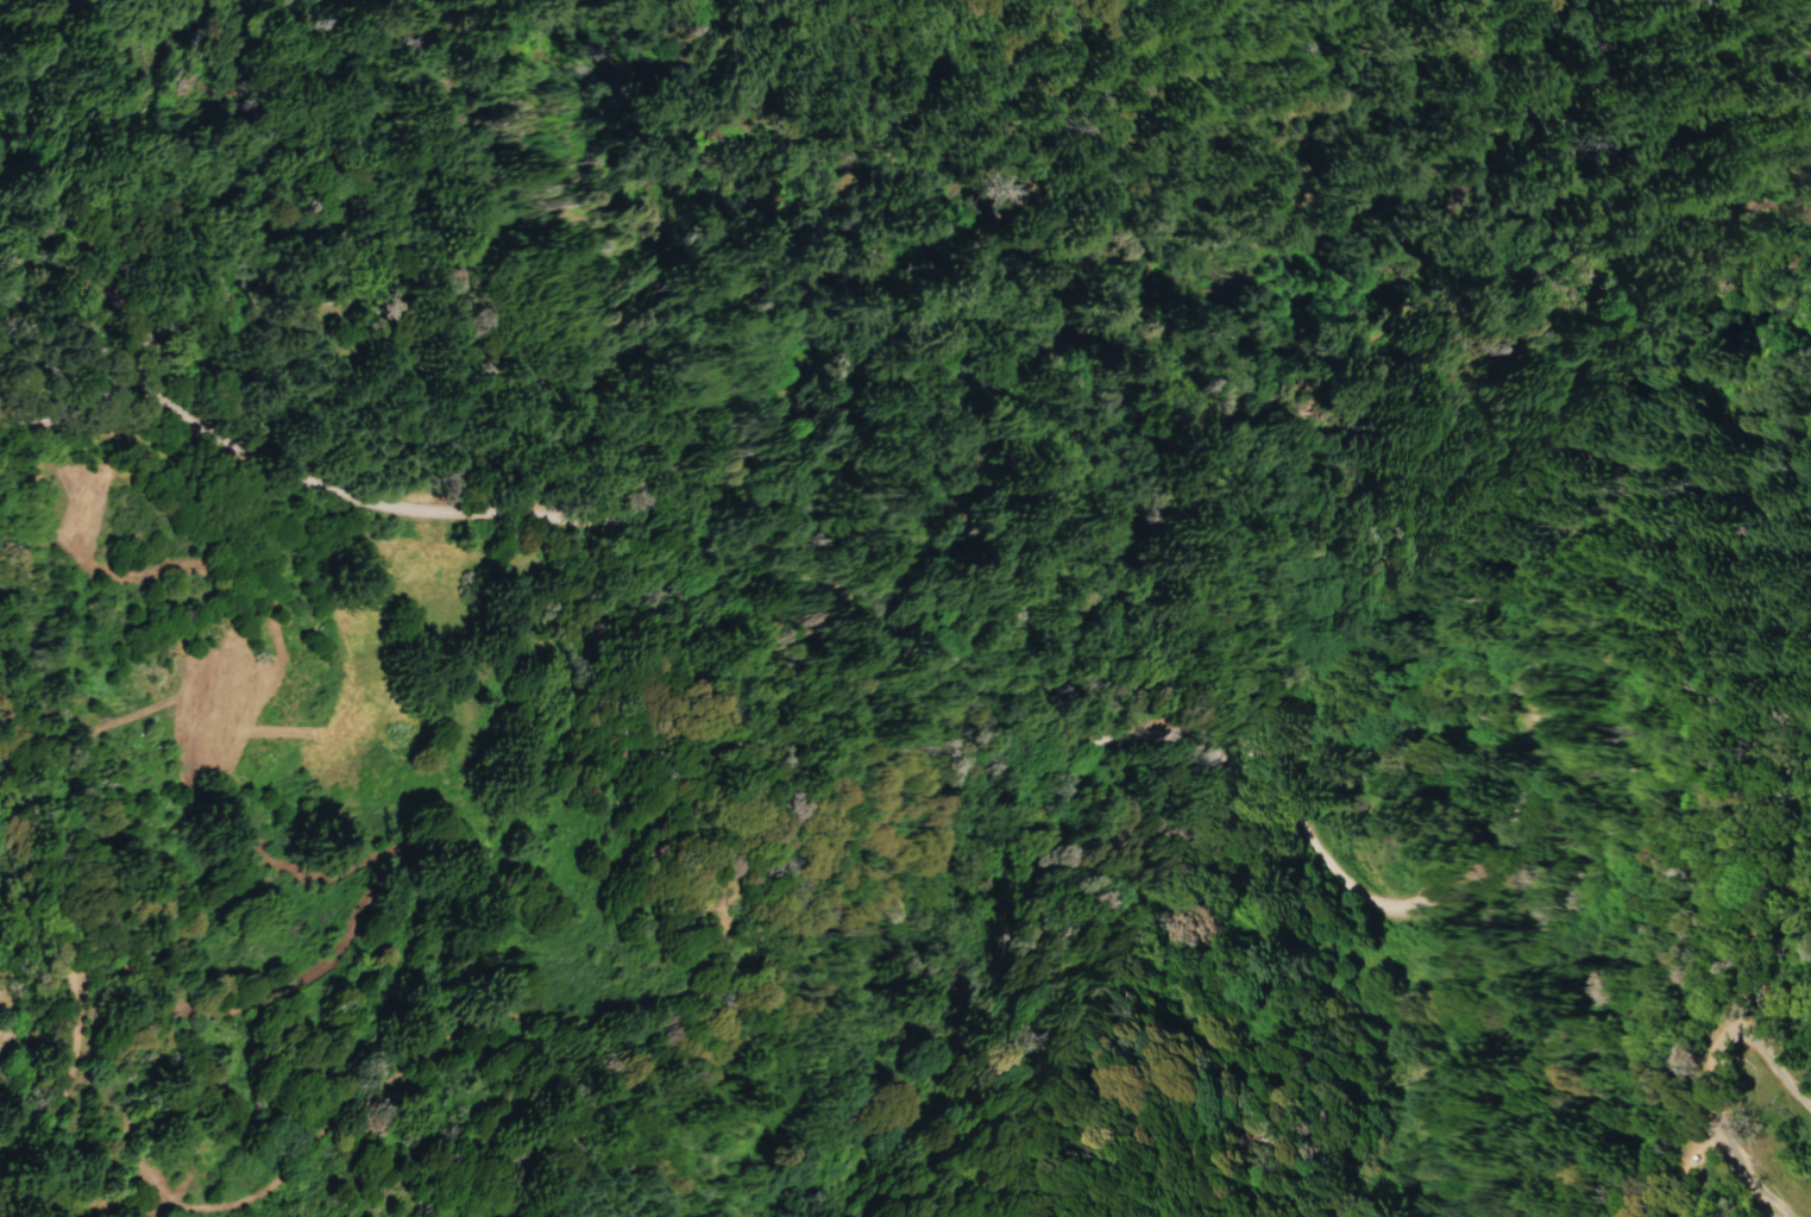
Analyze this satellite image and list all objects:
road: (78, 403)
road: (1004, 716)

